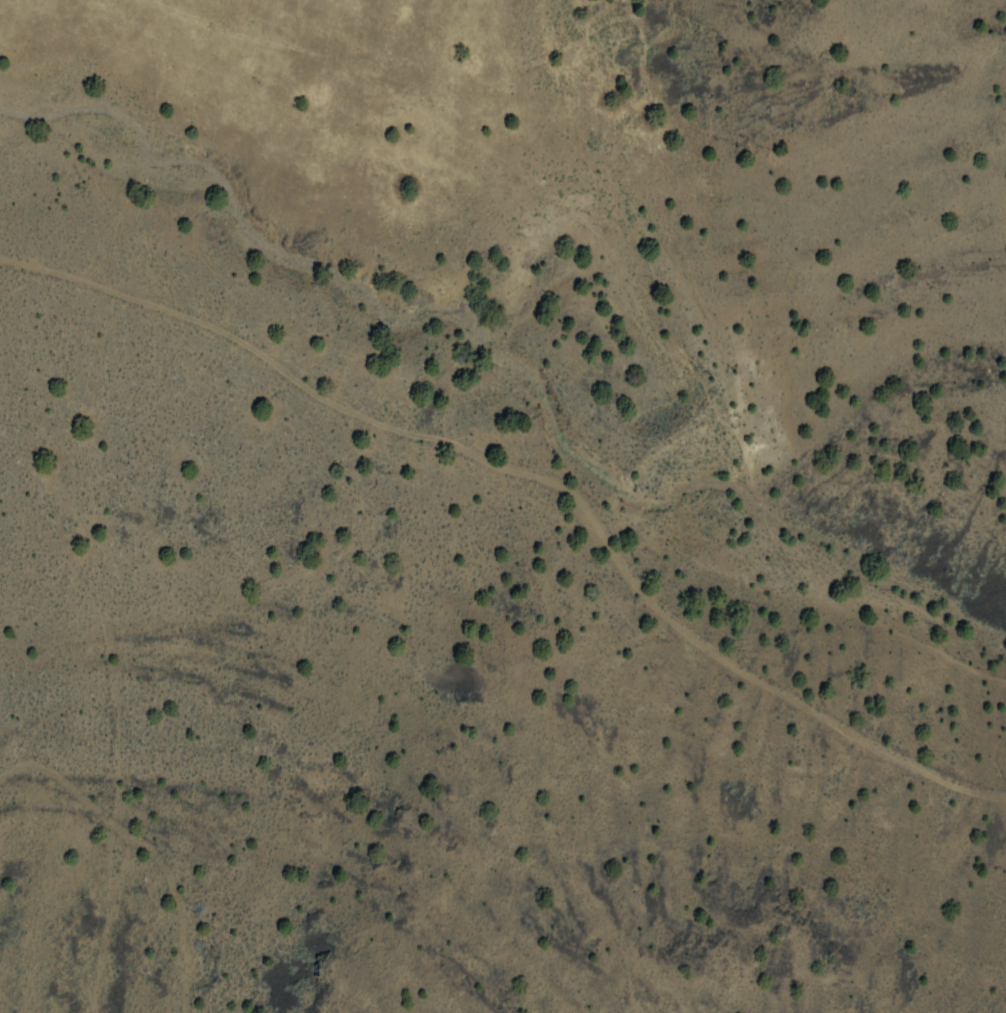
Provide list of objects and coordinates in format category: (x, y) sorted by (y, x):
road: (536, 478)

